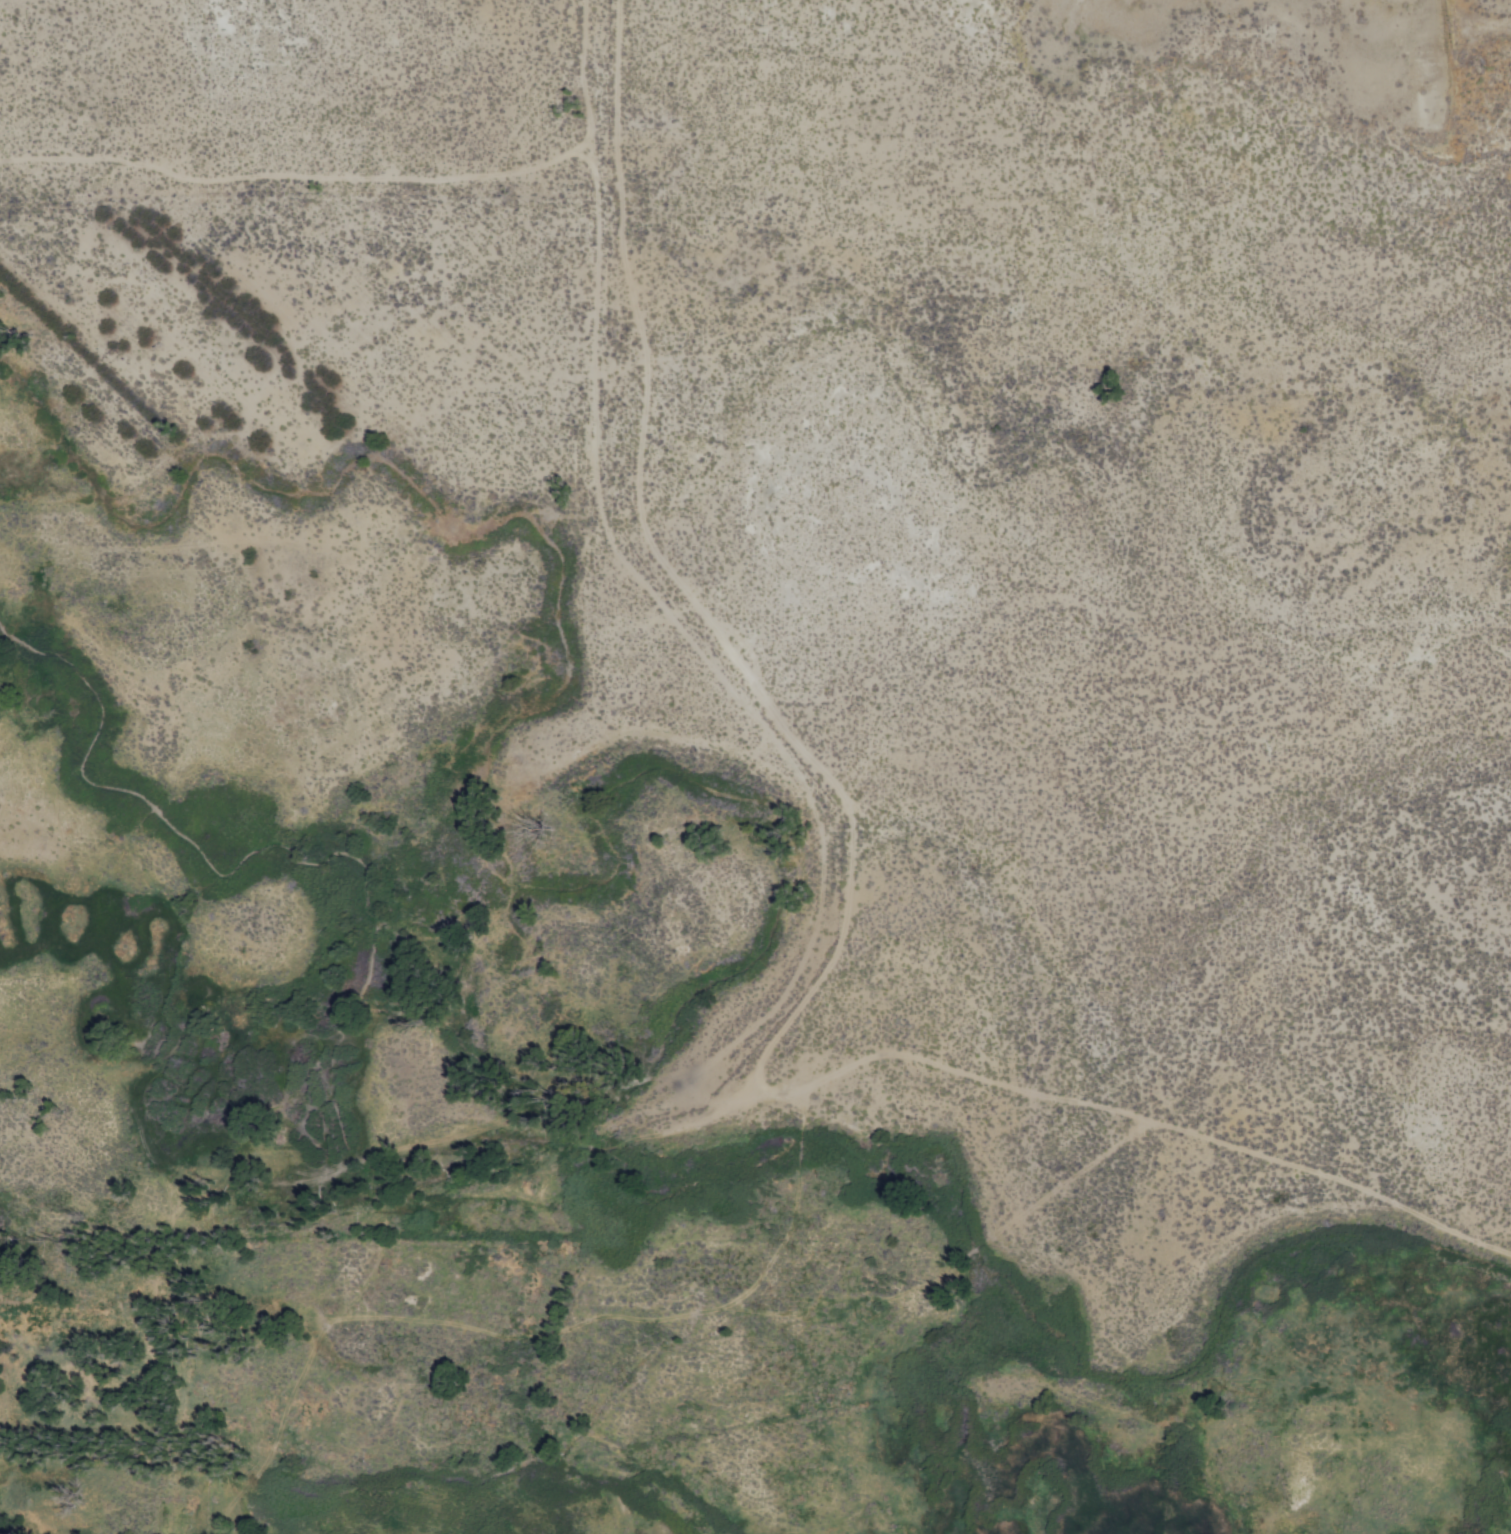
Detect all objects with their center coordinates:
road: (584, 43)
road: (1452, 79)
road: (298, 173)
road: (606, 295)
road: (653, 362)
road: (803, 796)
road: (855, 885)
road: (1071, 1097)
road: (563, 1330)

